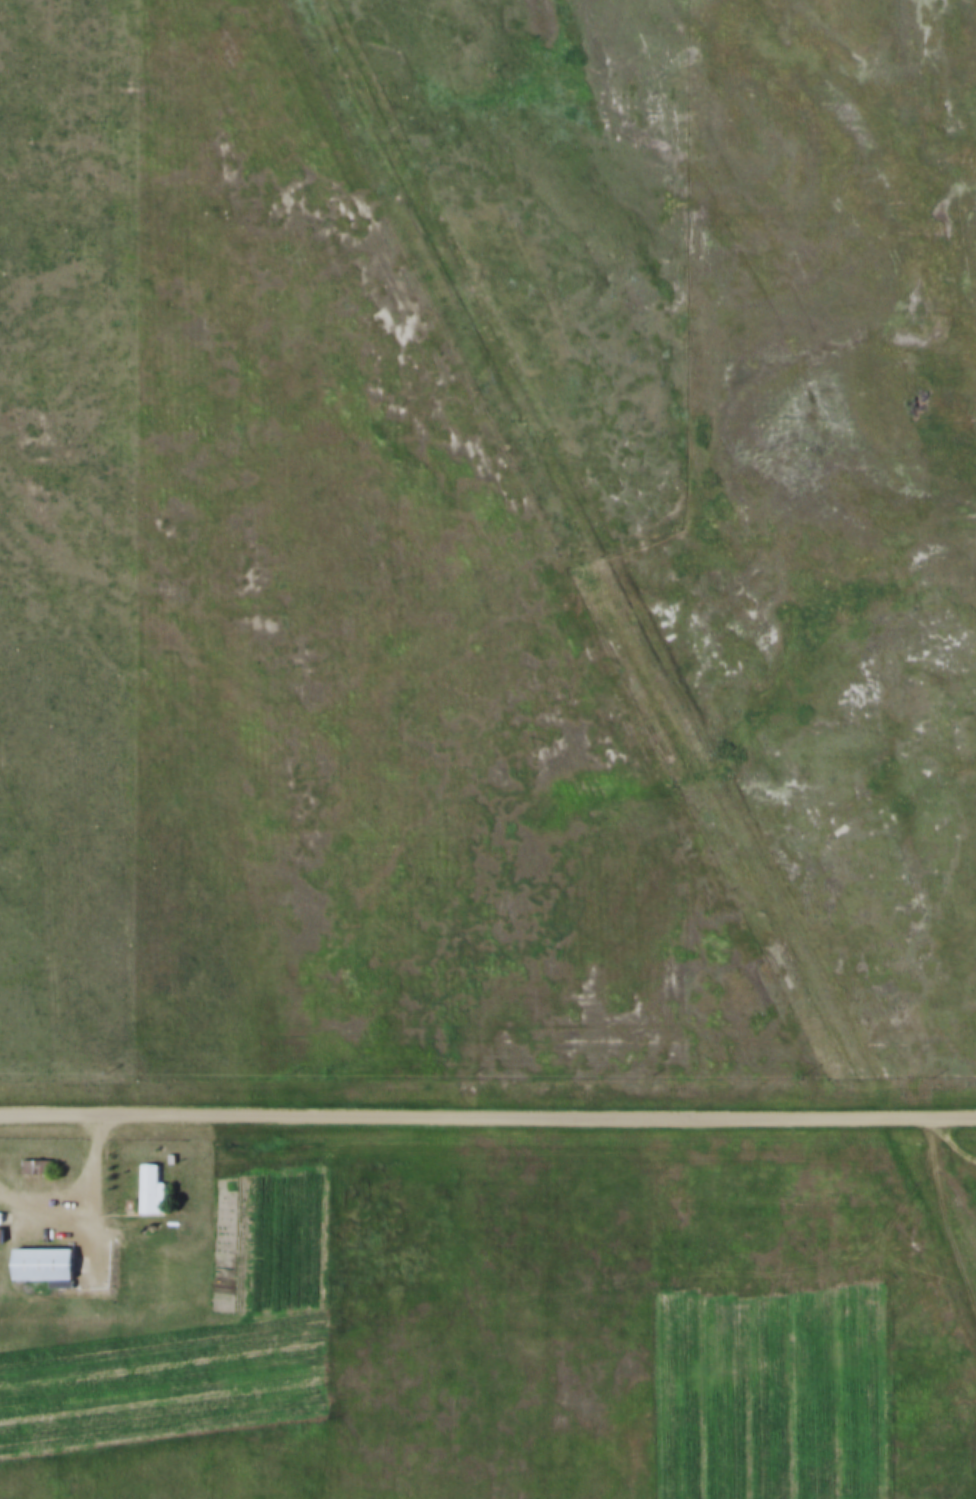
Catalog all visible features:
road: (487, 1115)
road: (956, 1136)
building: (174, 1155)
building: (39, 1162)
building: (153, 1186)
building: (103, 1194)
road: (89, 1200)
building: (2, 1214)
building: (2, 1232)
building: (49, 1262)

